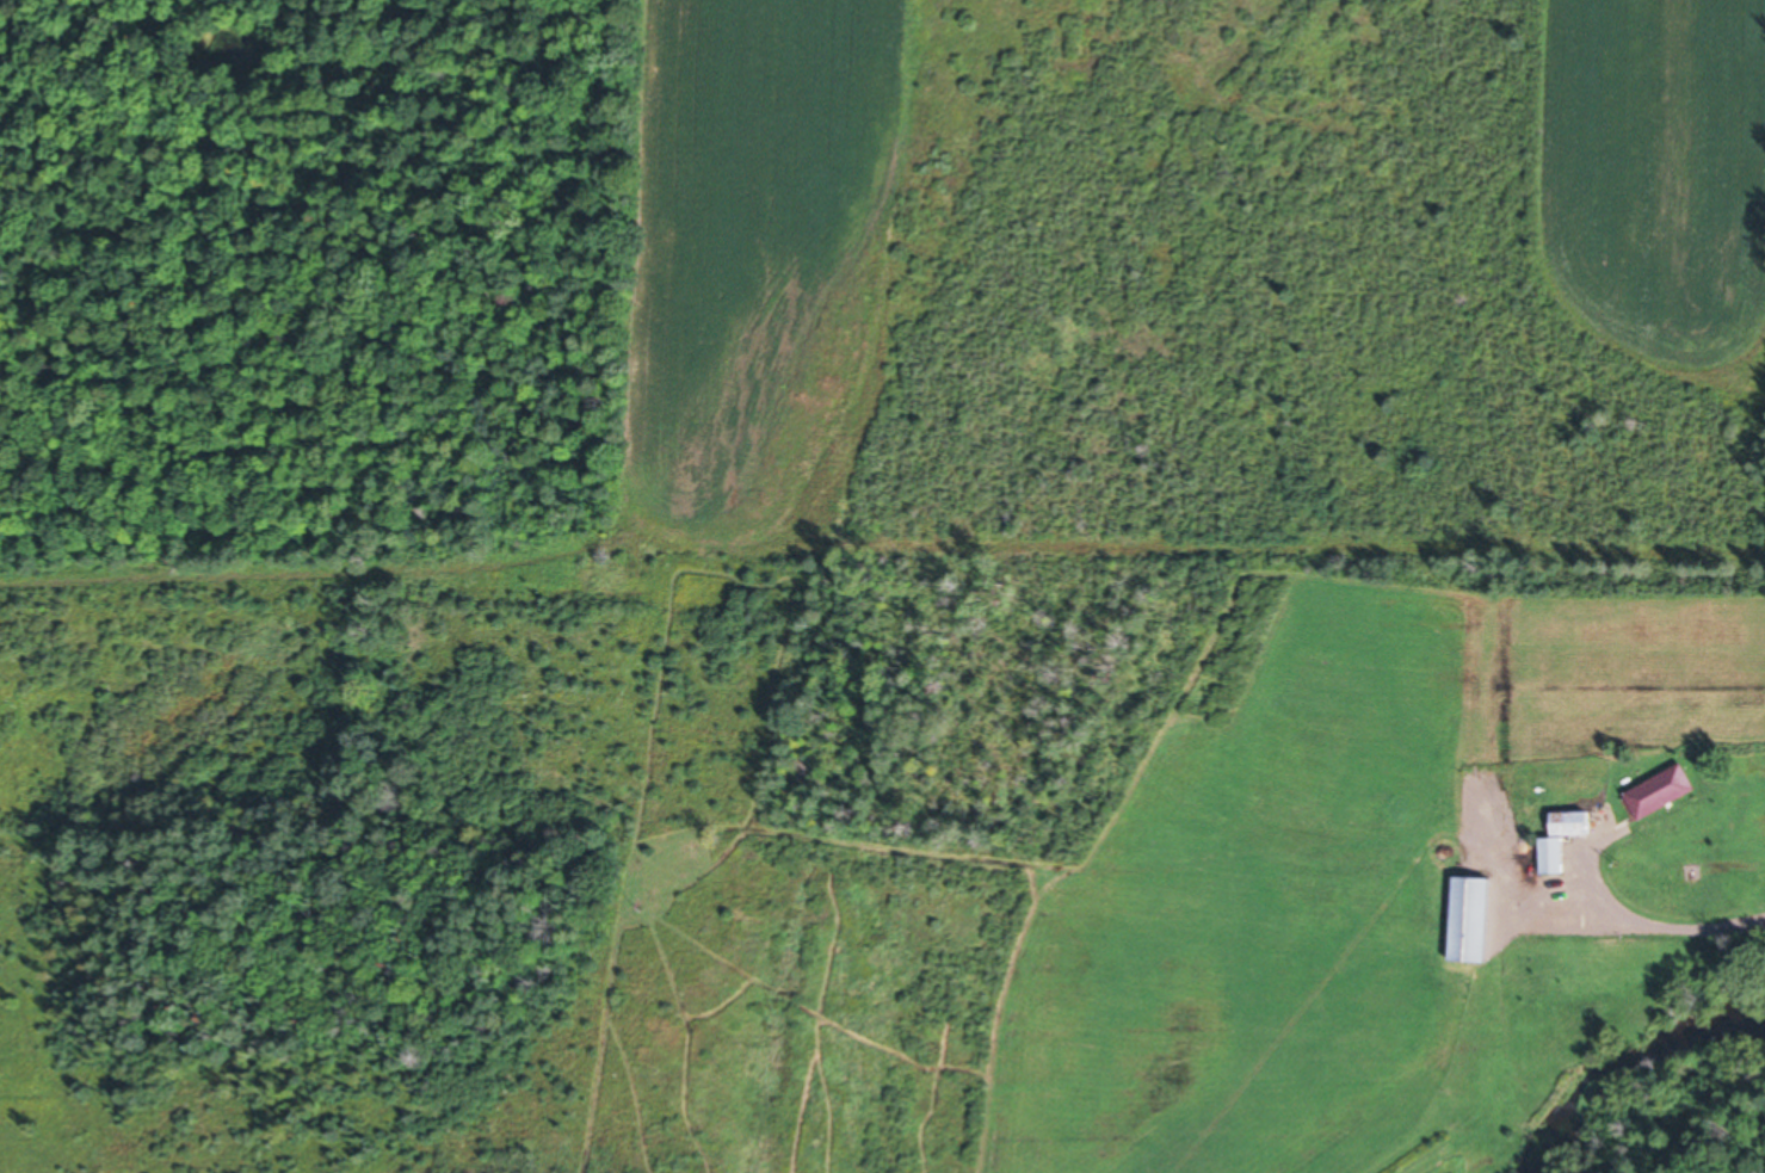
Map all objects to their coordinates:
building: (1667, 792)
building: (1568, 839)
building: (1477, 920)

